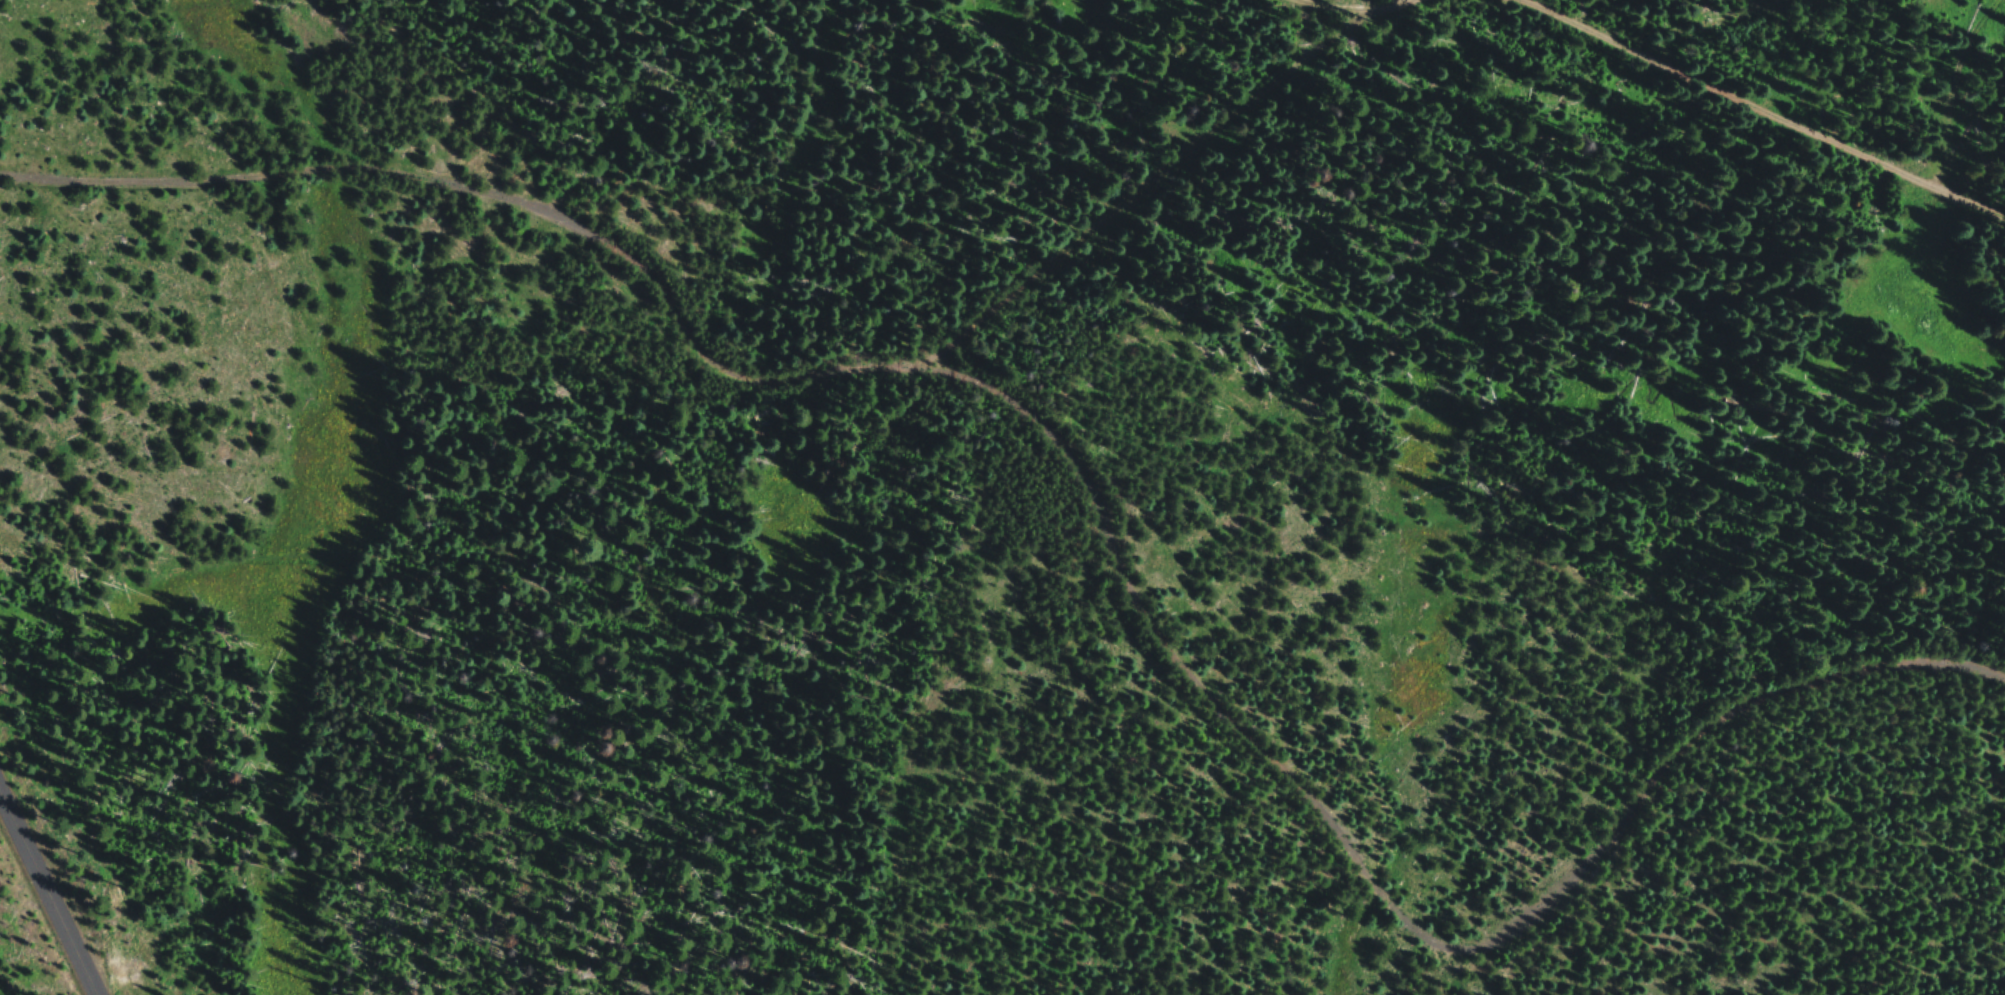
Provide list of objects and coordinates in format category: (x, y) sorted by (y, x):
road: (1309, 8)
road: (1745, 131)
road: (1072, 537)
road: (53, 889)

